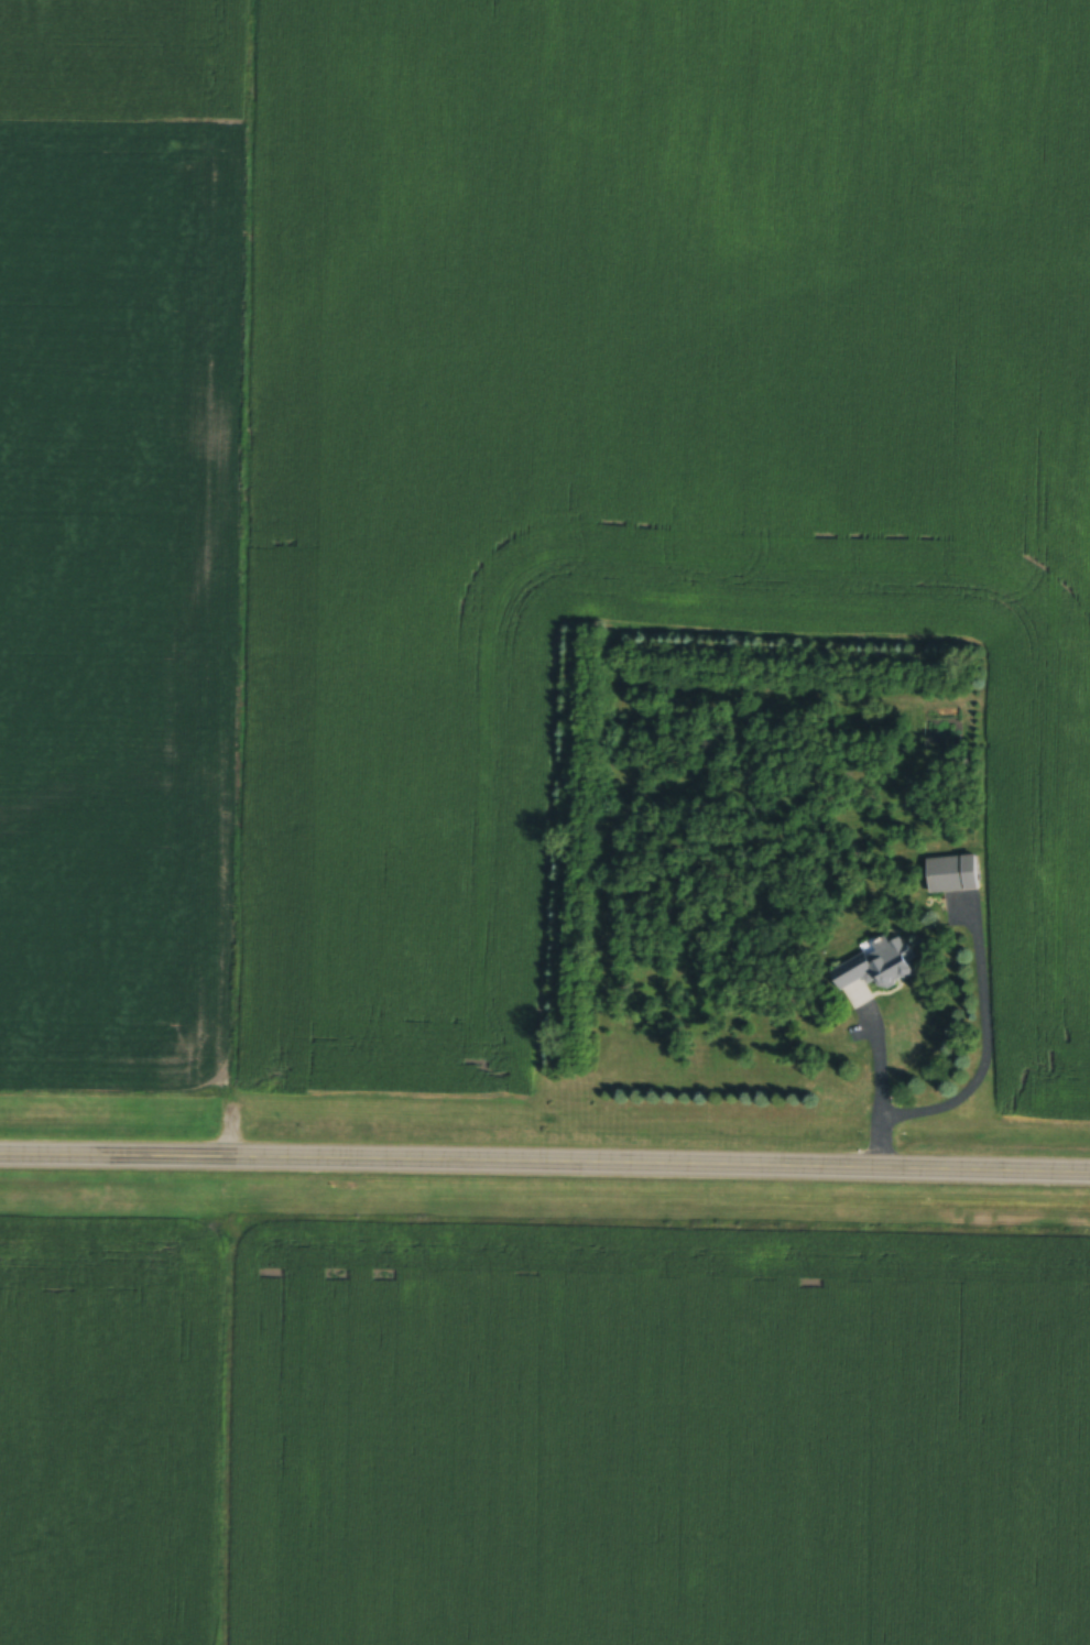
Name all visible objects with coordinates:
building: (951, 878)
building: (873, 974)
road: (875, 1100)
road: (545, 1166)

